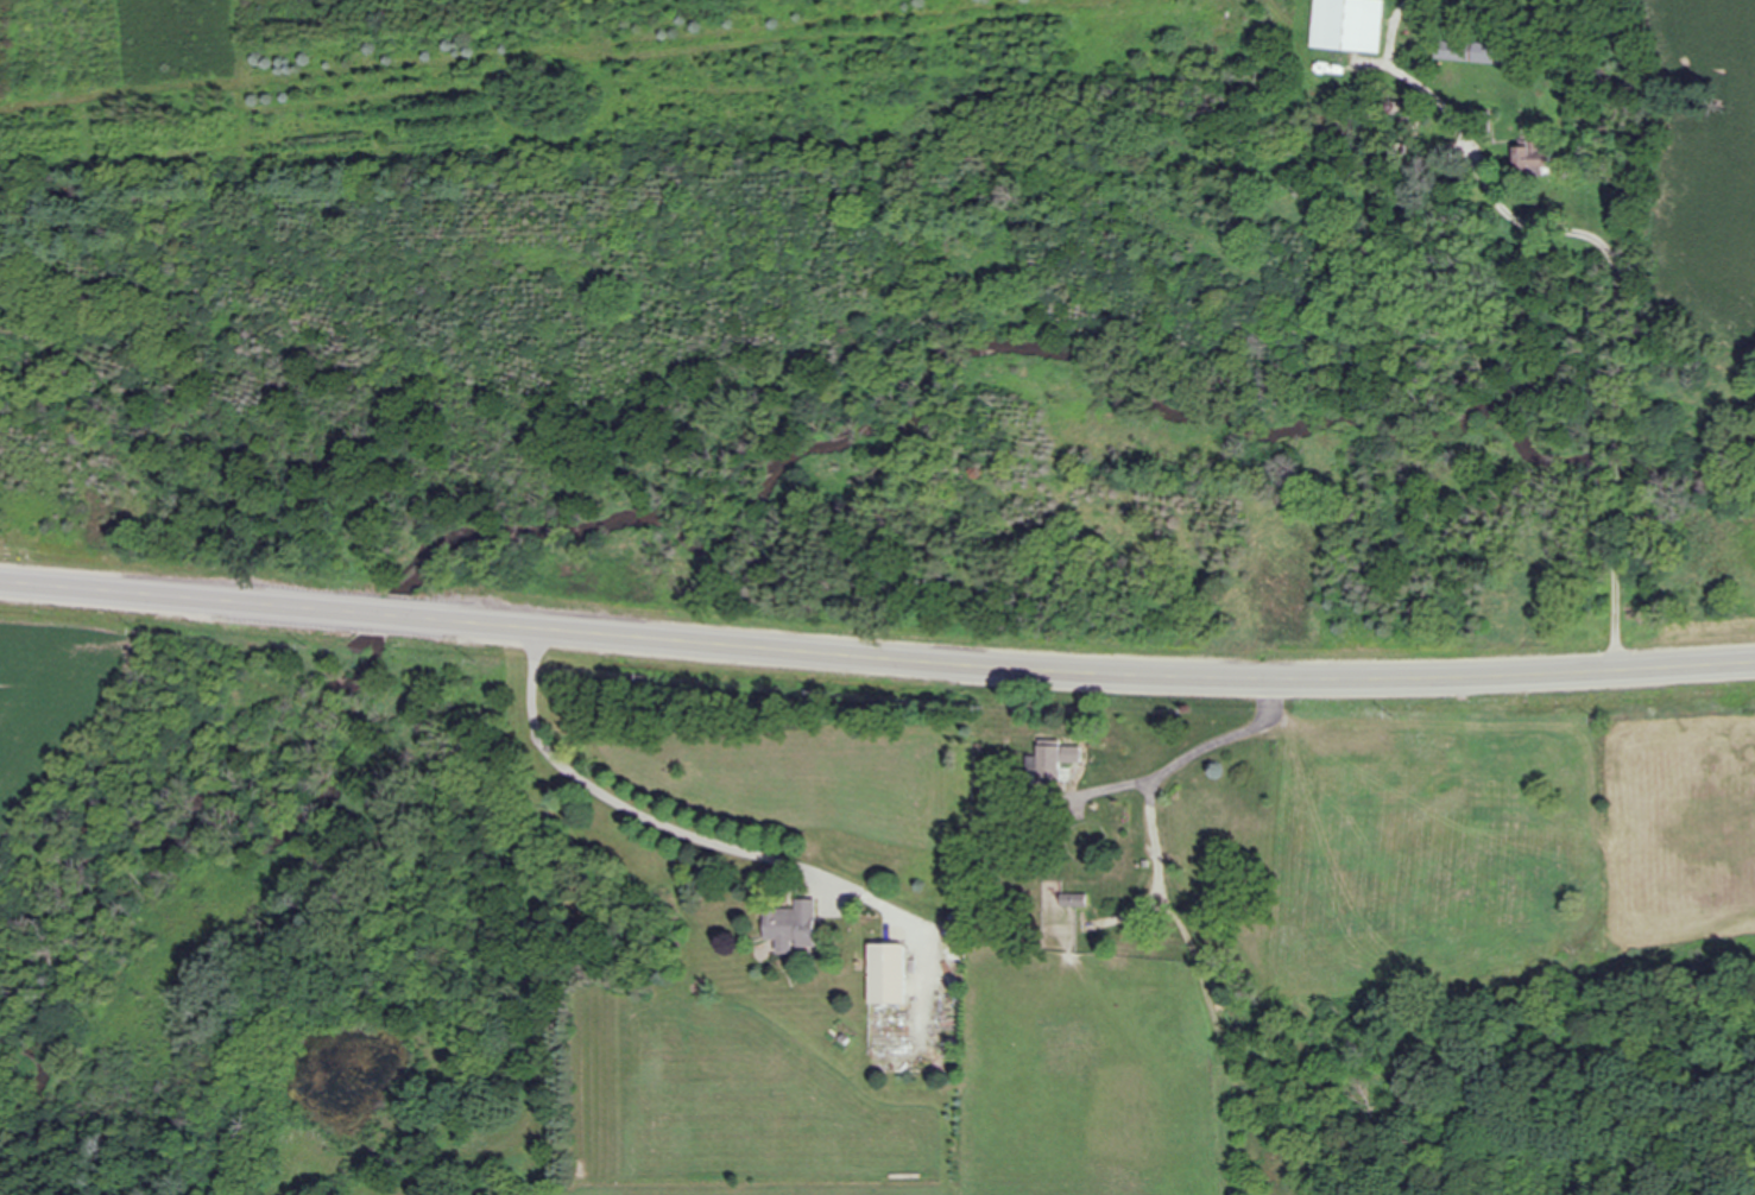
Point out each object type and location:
building: (1351, 25)
building: (1477, 52)
road: (1429, 93)
building: (1410, 126)
building: (1538, 156)
road: (1625, 378)
road: (876, 669)
road: (1193, 757)
building: (1049, 765)
road: (673, 827)
building: (1075, 900)
building: (795, 927)
building: (890, 974)

